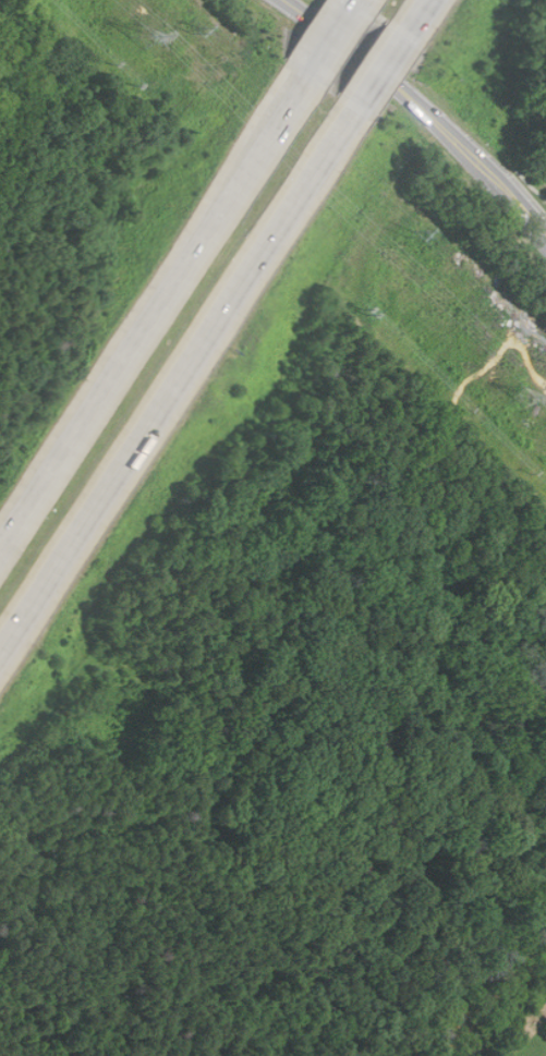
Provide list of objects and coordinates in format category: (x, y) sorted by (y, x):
road: (353, 2)
road: (409, 16)
power tower: (142, 40)
road: (329, 40)
road: (375, 70)
road: (423, 108)
road: (537, 186)
park: (542, 189)
road: (153, 309)
road: (175, 377)
power tower: (526, 400)

